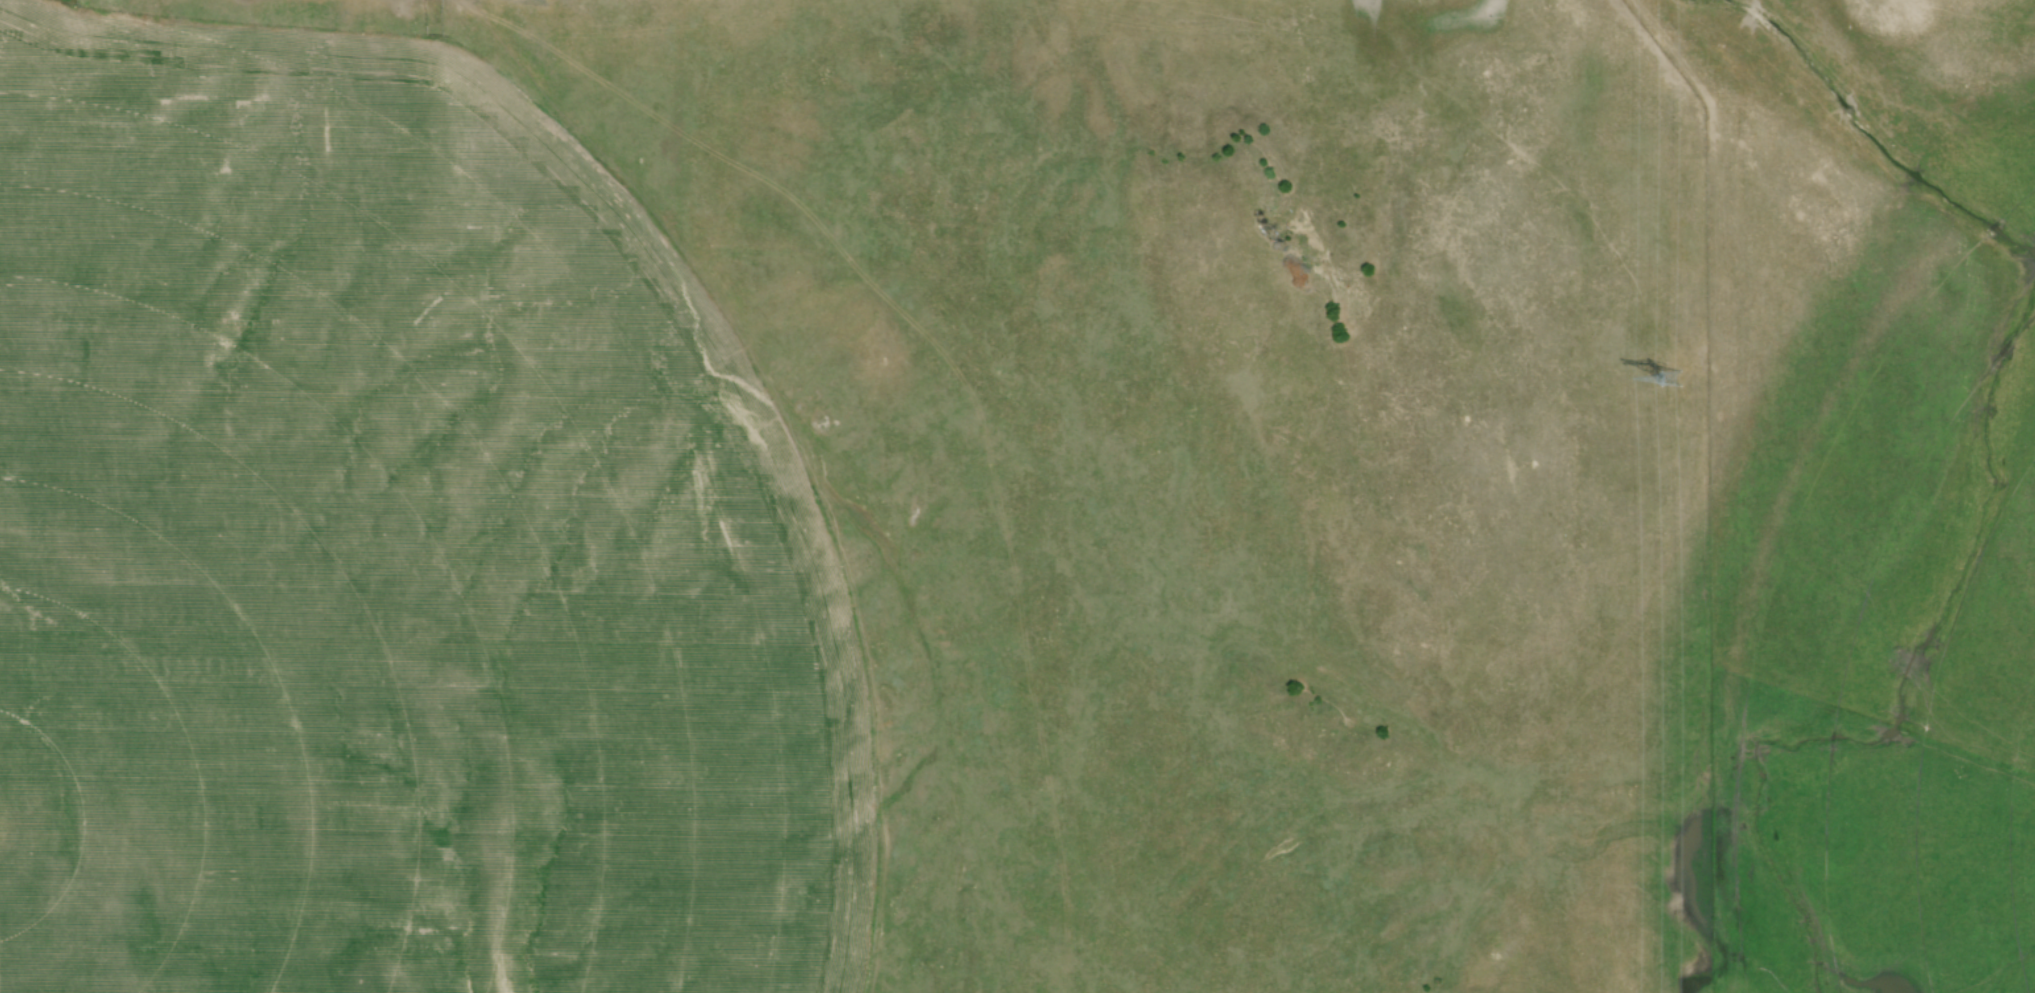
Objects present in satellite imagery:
power tower: (1668, 381)

